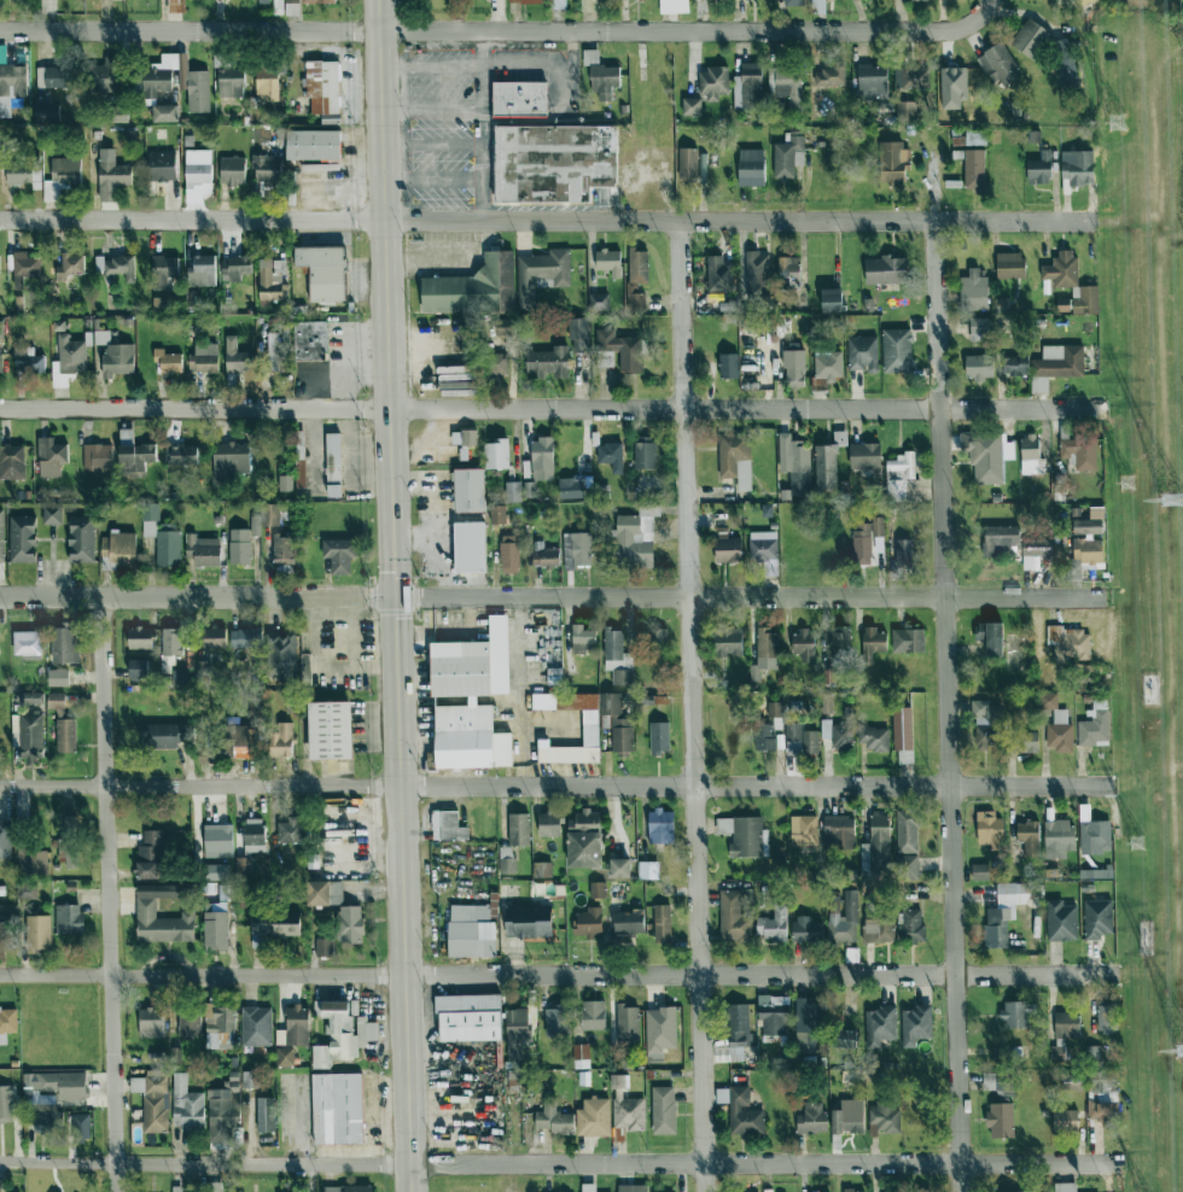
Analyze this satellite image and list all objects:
building: (261, 0)
building: (907, 0)
building: (291, 1)
building: (319, 1)
building: (525, 1)
building: (798, 2)
building: (556, 4)
building: (176, 6)
road: (986, 7)
building: (291, 10)
road: (493, 31)
road: (494, 65)
building: (997, 69)
building: (103, 75)
building: (832, 76)
building: (53, 77)
building: (13, 80)
building: (193, 80)
building: (267, 80)
building: (875, 81)
building: (231, 82)
building: (715, 82)
building: (756, 86)
building: (322, 87)
building: (792, 87)
building: (519, 98)
road: (432, 109)
building: (46, 112)
building: (165, 113)
building: (331, 119)
road: (546, 121)
road: (480, 125)
power tower: (1120, 127)
building: (978, 138)
building: (310, 144)
road: (432, 145)
building: (788, 156)
building: (542, 158)
building: (896, 163)
building: (162, 166)
building: (753, 166)
building: (267, 169)
building: (232, 170)
building: (978, 170)
building: (25, 171)
building: (1042, 171)
building: (111, 175)
building: (197, 175)
building: (62, 176)
road: (433, 181)
road: (546, 221)
building: (611, 263)
building: (71, 264)
building: (1015, 265)
building: (24, 268)
building: (120, 268)
building: (235, 268)
building: (203, 269)
building: (162, 270)
building: (888, 270)
building: (1065, 270)
building: (325, 271)
building: (791, 271)
building: (542, 273)
building: (637, 277)
building: (758, 277)
building: (723, 280)
building: (273, 282)
building: (472, 288)
building: (977, 290)
building: (601, 302)
building: (505, 327)
building: (1, 329)
building: (101, 337)
building: (310, 340)
building: (623, 345)
building: (272, 350)
building: (863, 353)
building: (237, 357)
building: (204, 358)
building: (0, 360)
building: (28, 360)
building: (68, 360)
building: (117, 360)
building: (168, 361)
building: (548, 362)
building: (1051, 362)
building: (451, 363)
building: (493, 364)
building: (725, 366)
building: (796, 366)
building: (829, 366)
building: (983, 367)
road: (552, 408)
building: (464, 437)
building: (734, 452)
building: (1082, 452)
building: (180, 454)
building: (496, 455)
building: (647, 455)
building: (867, 455)
building: (98, 456)
building: (51, 457)
building: (612, 457)
building: (299, 458)
building: (542, 458)
building: (229, 460)
building: (12, 462)
building: (333, 464)
building: (903, 466)
power tower: (1134, 481)
building: (285, 483)
building: (573, 487)
building: (468, 490)
building: (513, 491)
power tower: (1172, 510)
building: (284, 512)
building: (52, 514)
building: (497, 514)
building: (264, 519)
building: (1091, 524)
building: (631, 525)
building: (162, 536)
building: (1, 537)
building: (22, 538)
building: (81, 538)
building: (868, 541)
building: (239, 545)
building: (1036, 545)
building: (468, 547)
building: (748, 548)
building: (282, 549)
building: (118, 550)
building: (203, 550)
building: (578, 550)
building: (1089, 553)
building: (339, 554)
building: (509, 554)
building: (546, 556)
road: (396, 595)
road: (550, 597)
building: (140, 637)
building: (214, 637)
building: (245, 638)
building: (171, 641)
building: (873, 641)
building: (907, 641)
building: (600, 642)
building: (27, 643)
building: (65, 643)
building: (732, 643)
building: (768, 648)
building: (806, 649)
building: (281, 656)
building: (138, 668)
road: (945, 674)
building: (58, 677)
building: (183, 677)
building: (623, 677)
building: (31, 697)
building: (471, 699)
building: (57, 702)
building: (292, 705)
road: (690, 706)
building: (593, 724)
building: (622, 728)
building: (1094, 729)
building: (330, 730)
building: (770, 730)
building: (904, 730)
building: (167, 734)
building: (65, 735)
building: (30, 737)
building: (803, 737)
building: (1061, 737)
building: (843, 738)
building: (874, 738)
building: (282, 741)
building: (793, 746)
building: (658, 748)
road: (555, 787)
building: (69, 823)
building: (549, 824)
building: (447, 825)
building: (991, 828)
building: (518, 829)
building: (290, 830)
building: (804, 830)
building: (881, 831)
building: (840, 832)
building: (253, 835)
building: (745, 835)
building: (1049, 835)
building: (1095, 837)
building: (588, 839)
building: (5, 840)
power tower: (1140, 840)
building: (217, 841)
building: (68, 852)
building: (150, 854)
building: (31, 863)
building: (507, 865)
building: (243, 866)
building: (623, 869)
building: (542, 870)
building: (648, 870)
building: (218, 871)
building: (599, 889)
building: (25, 892)
building: (325, 893)
road: (107, 894)
building: (145, 913)
building: (735, 916)
building: (69, 919)
building: (1063, 921)
building: (1098, 921)
building: (529, 922)
building: (645, 922)
building: (589, 923)
building: (350, 924)
building: (273, 925)
building: (216, 927)
building: (806, 927)
building: (998, 928)
building: (888, 929)
building: (5, 931)
building: (471, 931)
building: (37, 933)
building: (324, 947)
road: (558, 975)
building: (596, 1015)
building: (774, 1015)
building: (1016, 1015)
building: (468, 1017)
building: (555, 1021)
building: (7, 1022)
building: (151, 1022)
building: (190, 1023)
building: (917, 1024)
building: (221, 1026)
building: (256, 1026)
building: (295, 1027)
building: (629, 1027)
building: (881, 1027)
building: (662, 1030)
building: (741, 1033)
building: (517, 1034)
building: (1065, 1034)
building: (811, 1039)
building: (176, 1056)
building: (582, 1056)
building: (321, 1057)
building: (285, 1058)
power tower: (1182, 1058)
building: (515, 1077)
building: (250, 1079)
building: (723, 1095)
building: (52, 1097)
building: (6, 1104)
building: (156, 1104)
building: (187, 1105)
building: (338, 1109)
building: (225, 1110)
building: (665, 1110)
building: (630, 1114)
building: (745, 1114)
building: (812, 1114)
building: (266, 1115)
building: (880, 1116)
building: (843, 1117)
building: (554, 1118)
building: (596, 1118)
building: (995, 1118)
building: (1059, 1120)
road: (297, 1122)
building: (81, 1127)
road: (7, 1162)
road: (566, 1164)
building: (215, 1186)
building: (583, 1187)
building: (628, 1187)
building: (1020, 1191)

